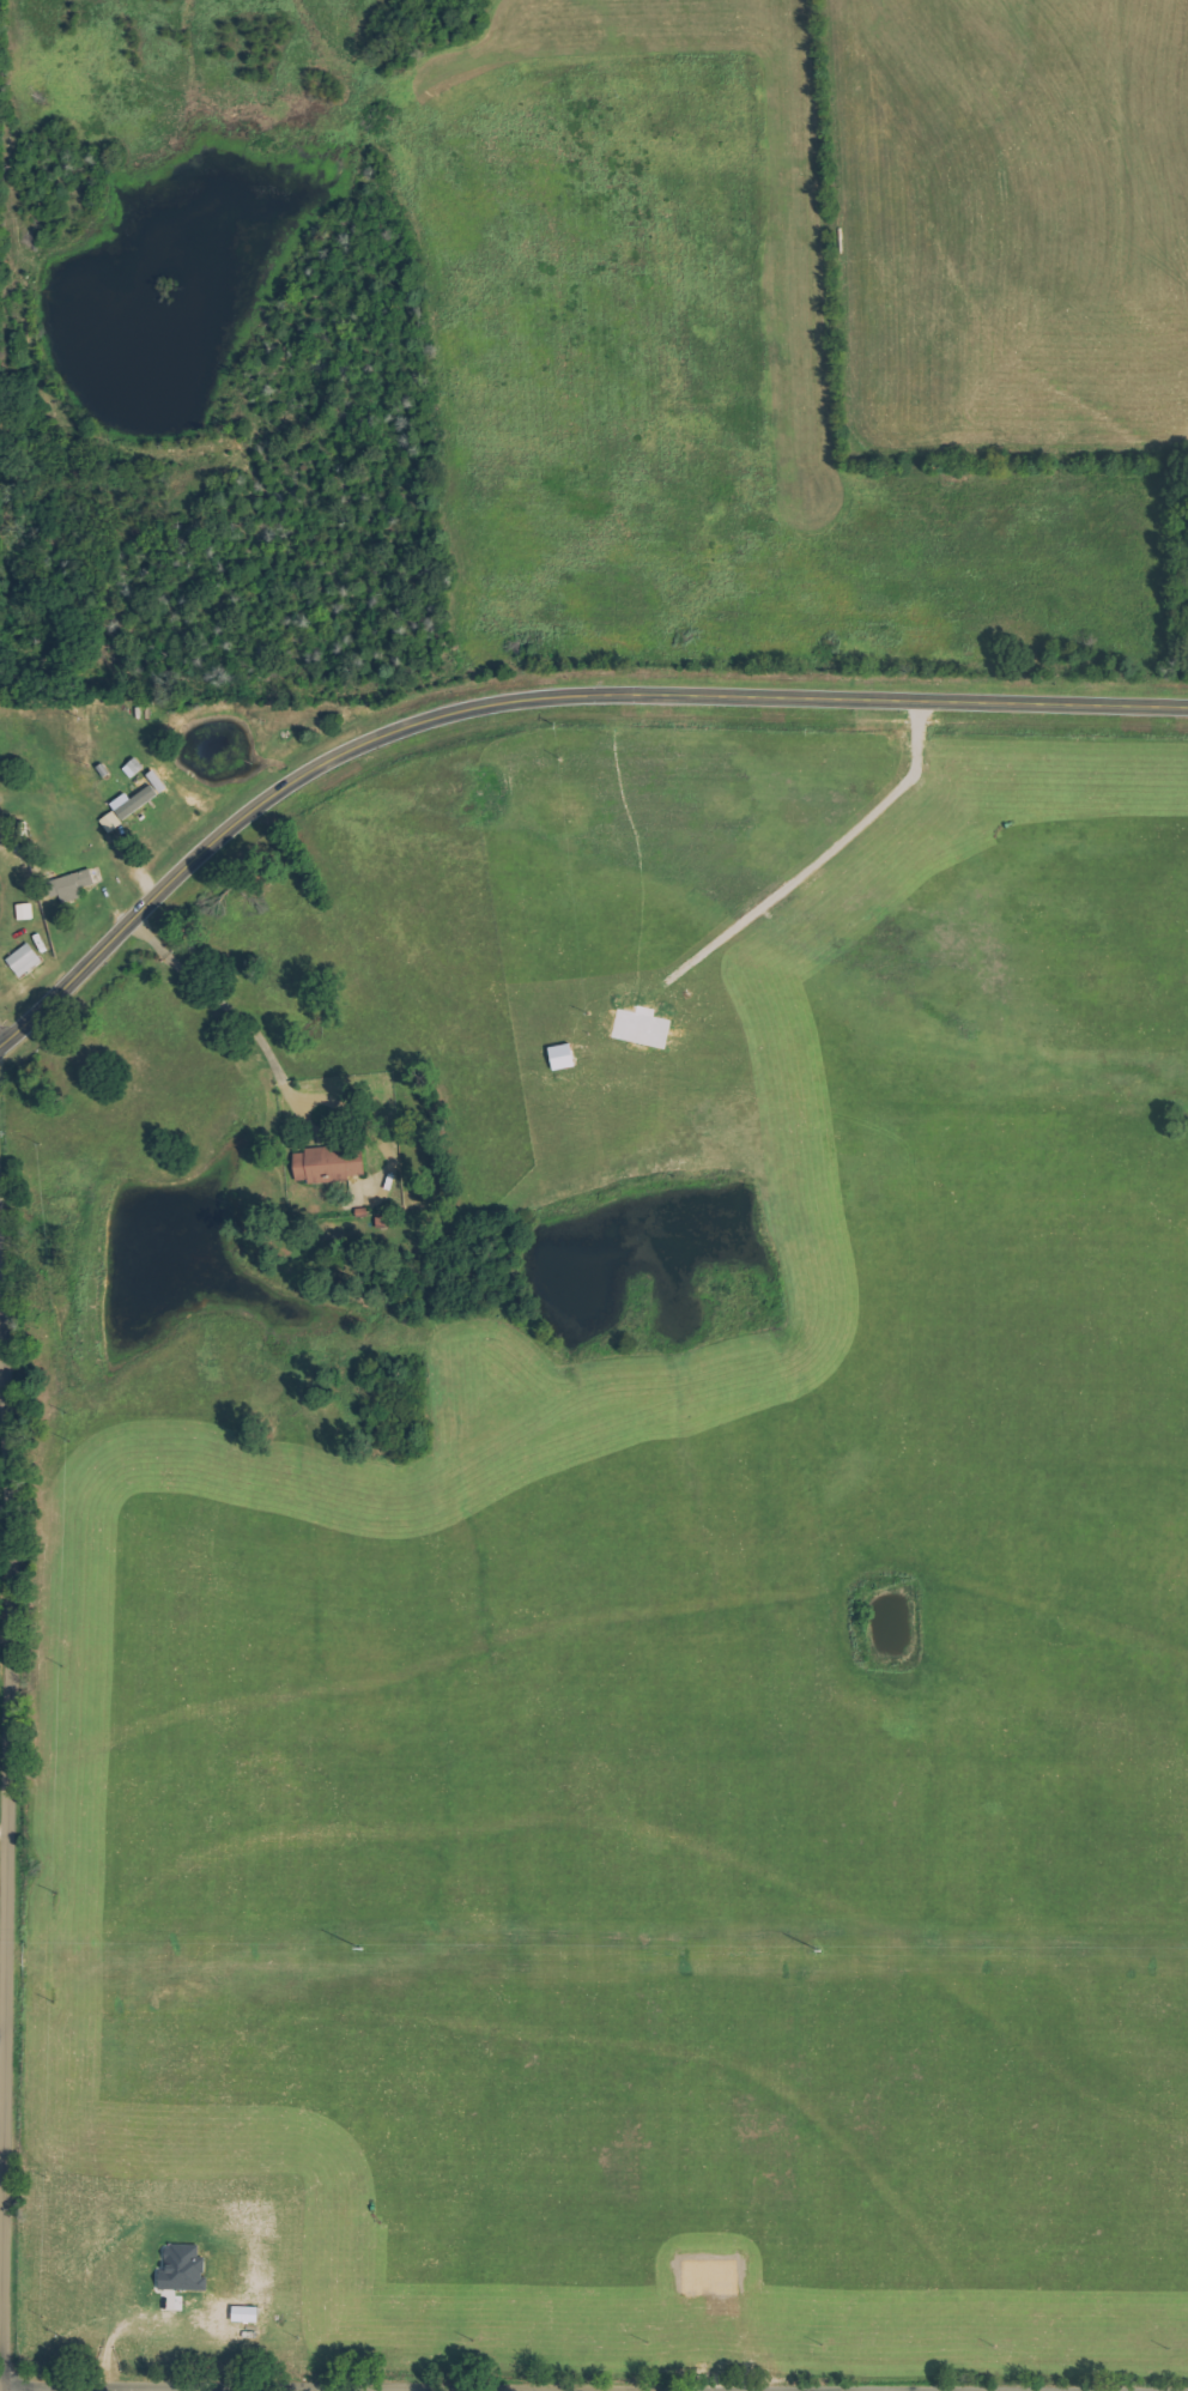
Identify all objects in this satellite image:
road: (533, 694)
building: (114, 822)
building: (74, 885)
building: (26, 910)
building: (26, 960)
road: (225, 1005)
building: (333, 1163)
road: (7, 1769)
power tower: (359, 1948)
power tower: (818, 1951)
road: (230, 2389)

